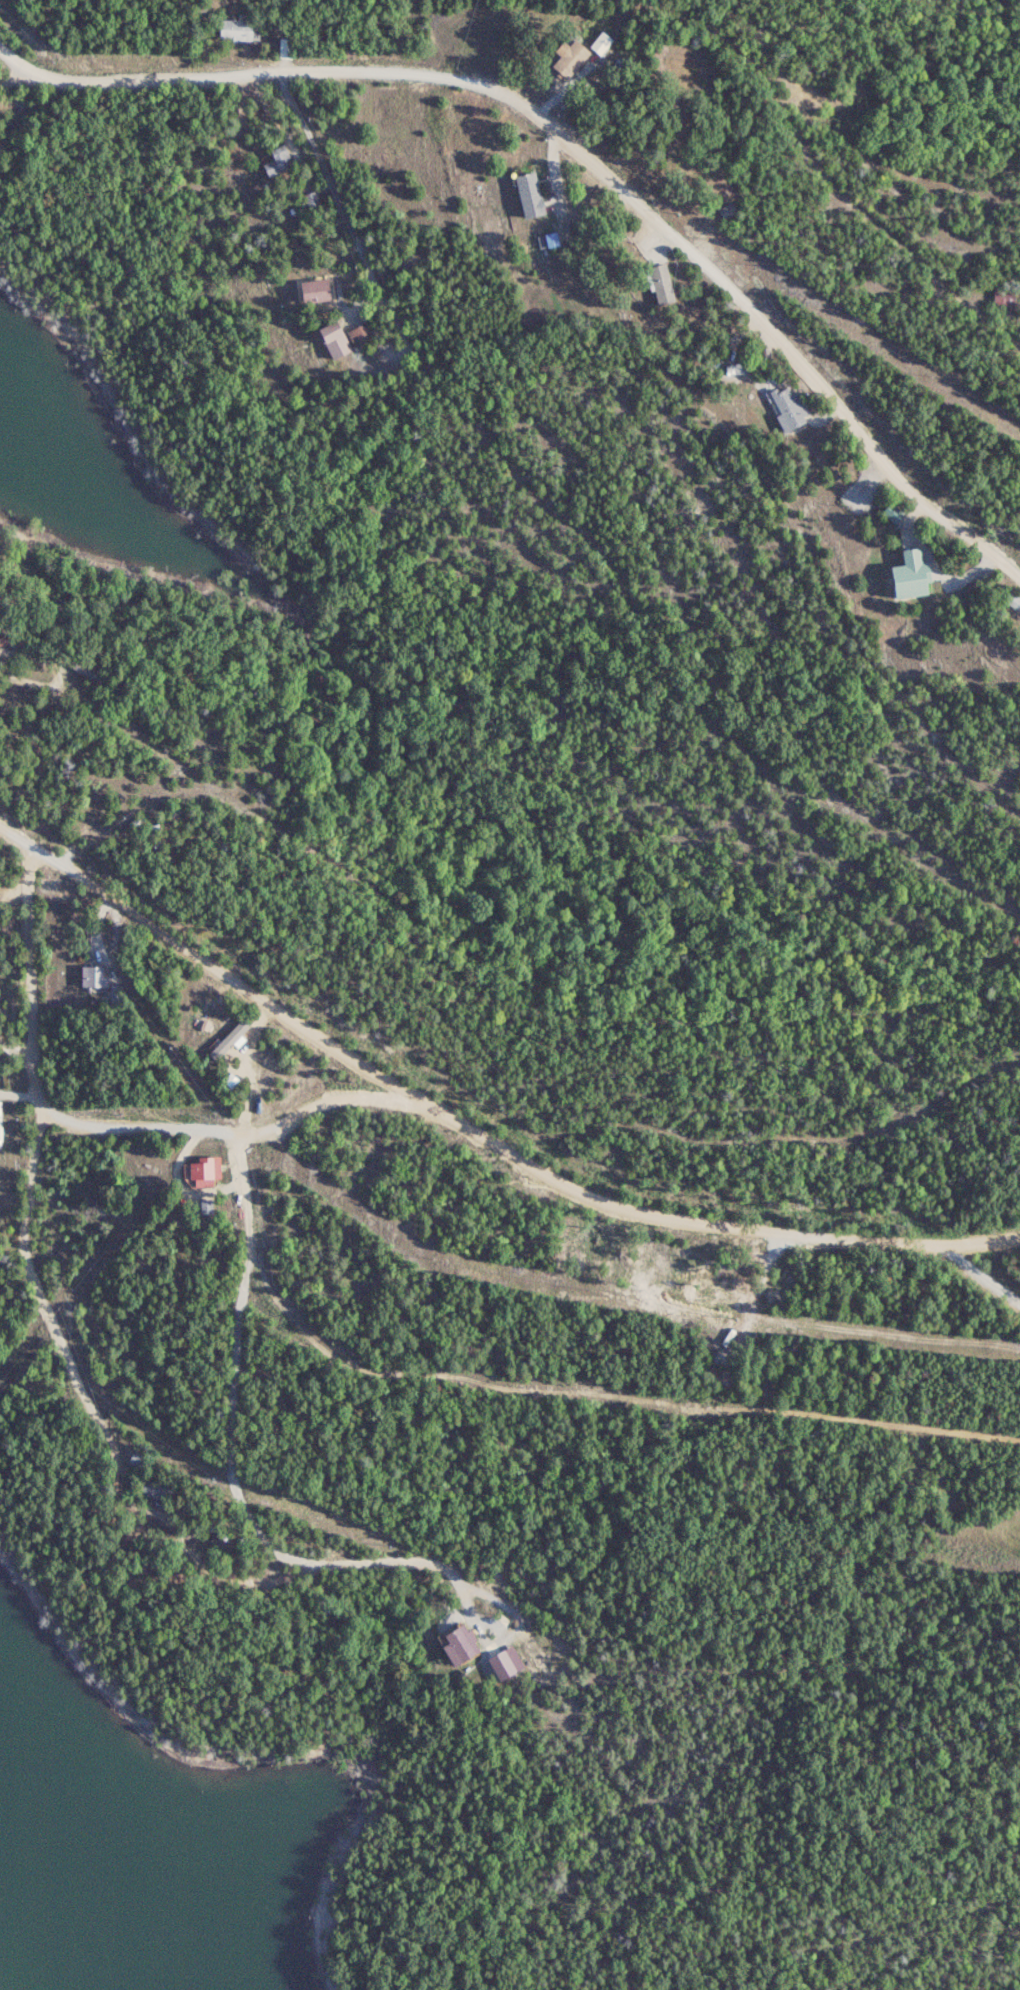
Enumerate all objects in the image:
building: (240, 30)
building: (601, 41)
building: (571, 56)
road: (19, 79)
road: (579, 155)
building: (277, 159)
building: (531, 193)
building: (552, 238)
building: (662, 283)
building: (318, 289)
building: (358, 334)
building: (336, 339)
road: (594, 550)
building: (913, 573)
road: (42, 658)
road: (25, 680)
building: (87, 976)
building: (231, 1079)
road: (219, 1130)
road: (483, 1137)
building: (207, 1169)
road: (978, 1241)
road: (60, 1342)
road: (172, 1522)
building: (463, 1644)
building: (507, 1662)

